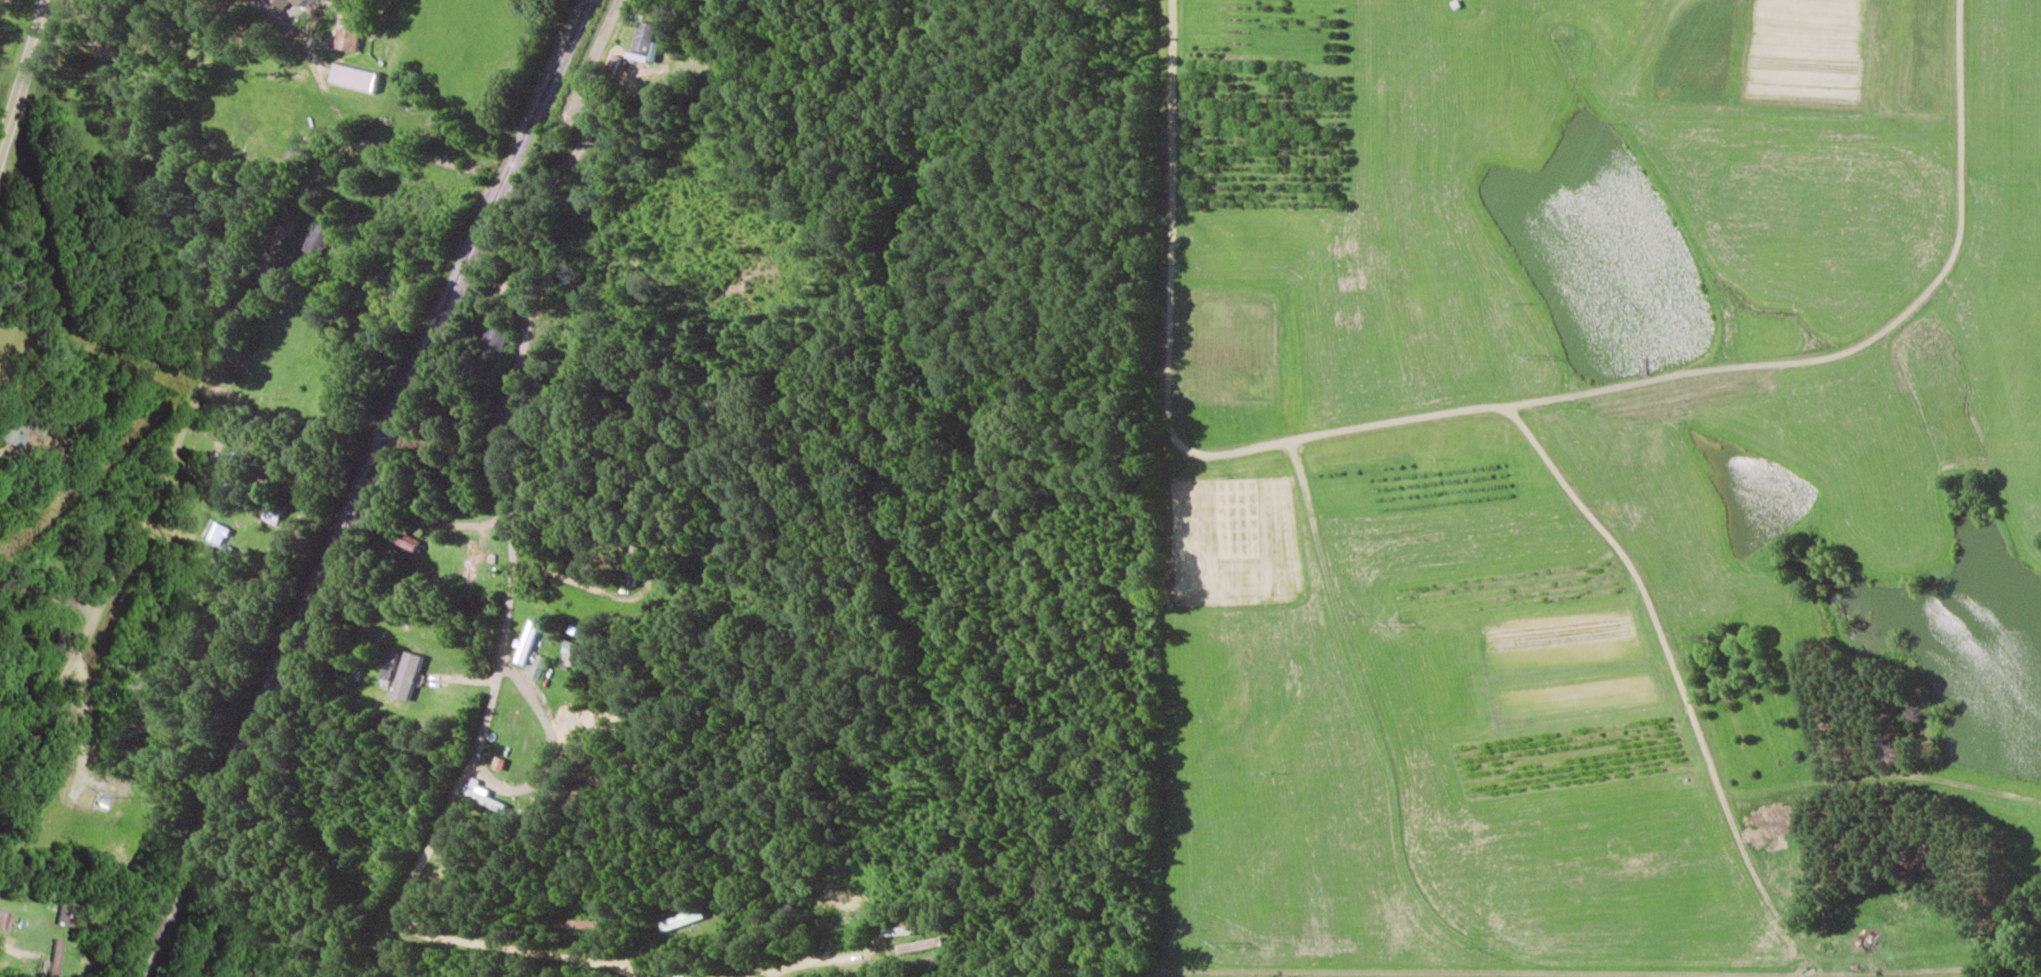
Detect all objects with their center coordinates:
building: (285, 3)
building: (346, 37)
building: (646, 43)
building: (104, 46)
road: (25, 76)
building: (354, 77)
road: (574, 92)
road: (1167, 221)
building: (316, 239)
road: (525, 292)
building: (498, 339)
road: (1744, 383)
road: (200, 399)
railway: (360, 488)
building: (409, 543)
building: (471, 563)
building: (632, 565)
road: (41, 600)
building: (526, 642)
building: (388, 664)
building: (537, 667)
building: (408, 675)
building: (498, 764)
building: (484, 797)
building: (3, 921)
building: (51, 958)

